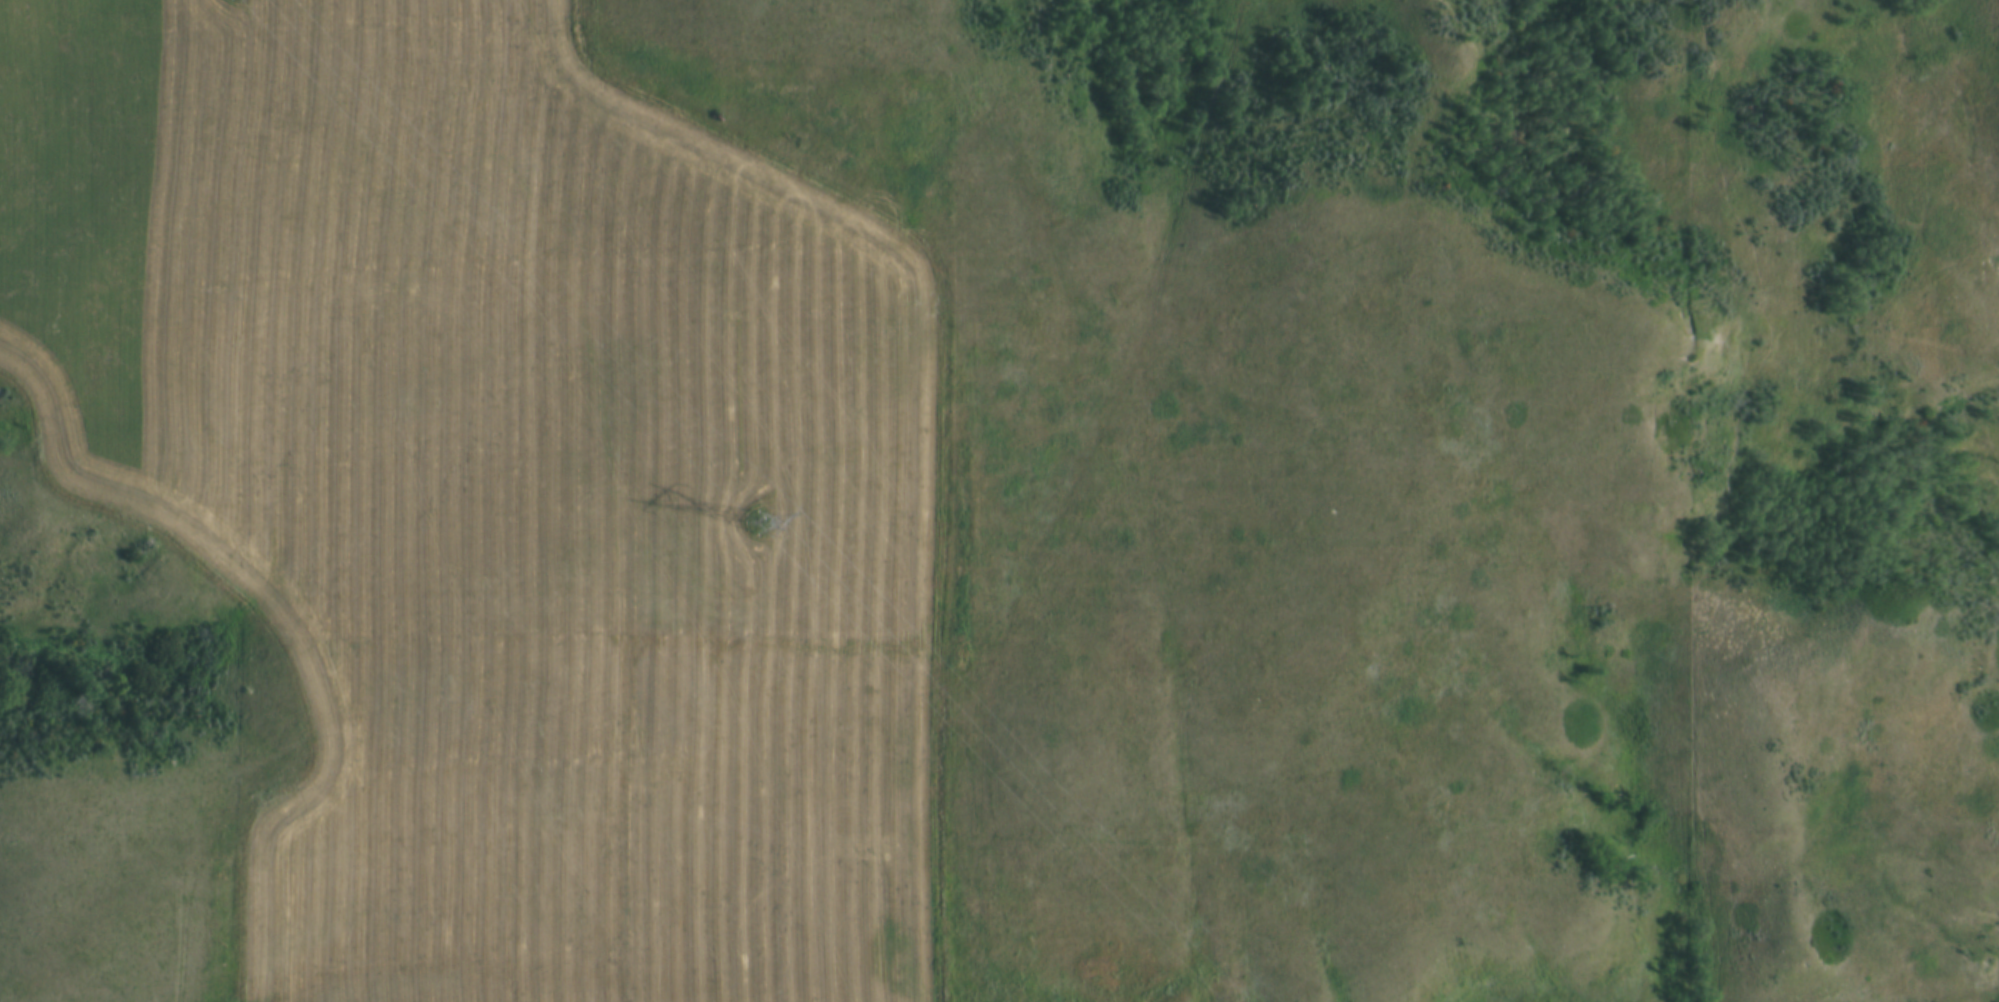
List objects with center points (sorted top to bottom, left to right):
power tower: (747, 529)

